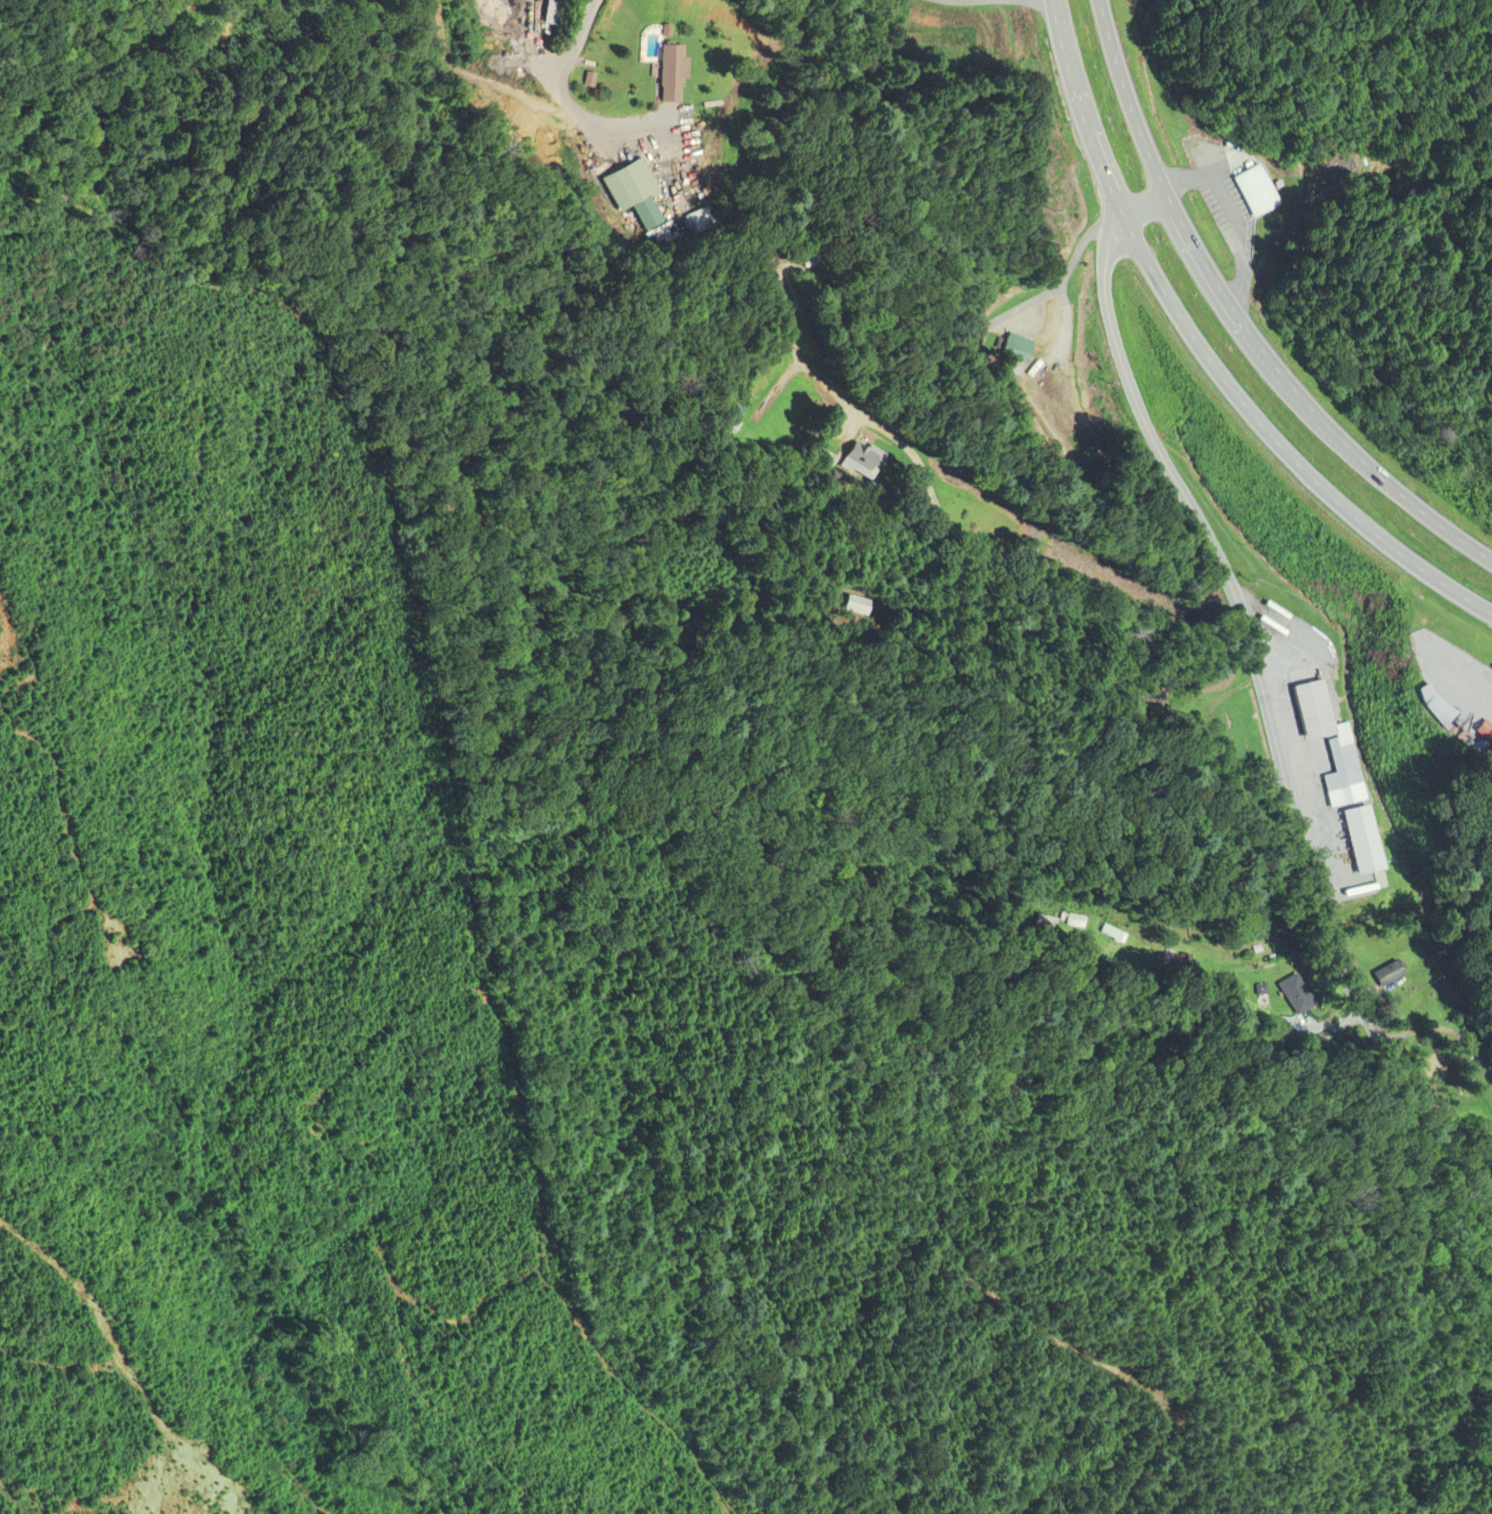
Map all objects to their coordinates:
road: (991, 3)
building: (685, 73)
road: (573, 90)
building: (643, 186)
building: (1216, 188)
road: (1233, 218)
building: (795, 260)
road: (1239, 319)
building: (991, 349)
road: (1205, 354)
building: (871, 461)
road: (1015, 481)
building: (839, 605)
building: (1453, 707)
road: (1267, 709)
building: (1360, 709)
building: (1185, 733)
building: (1283, 736)
building: (1391, 779)
building: (1041, 918)
building: (1013, 919)
building: (1076, 930)
building: (1441, 971)
building: (1342, 992)

